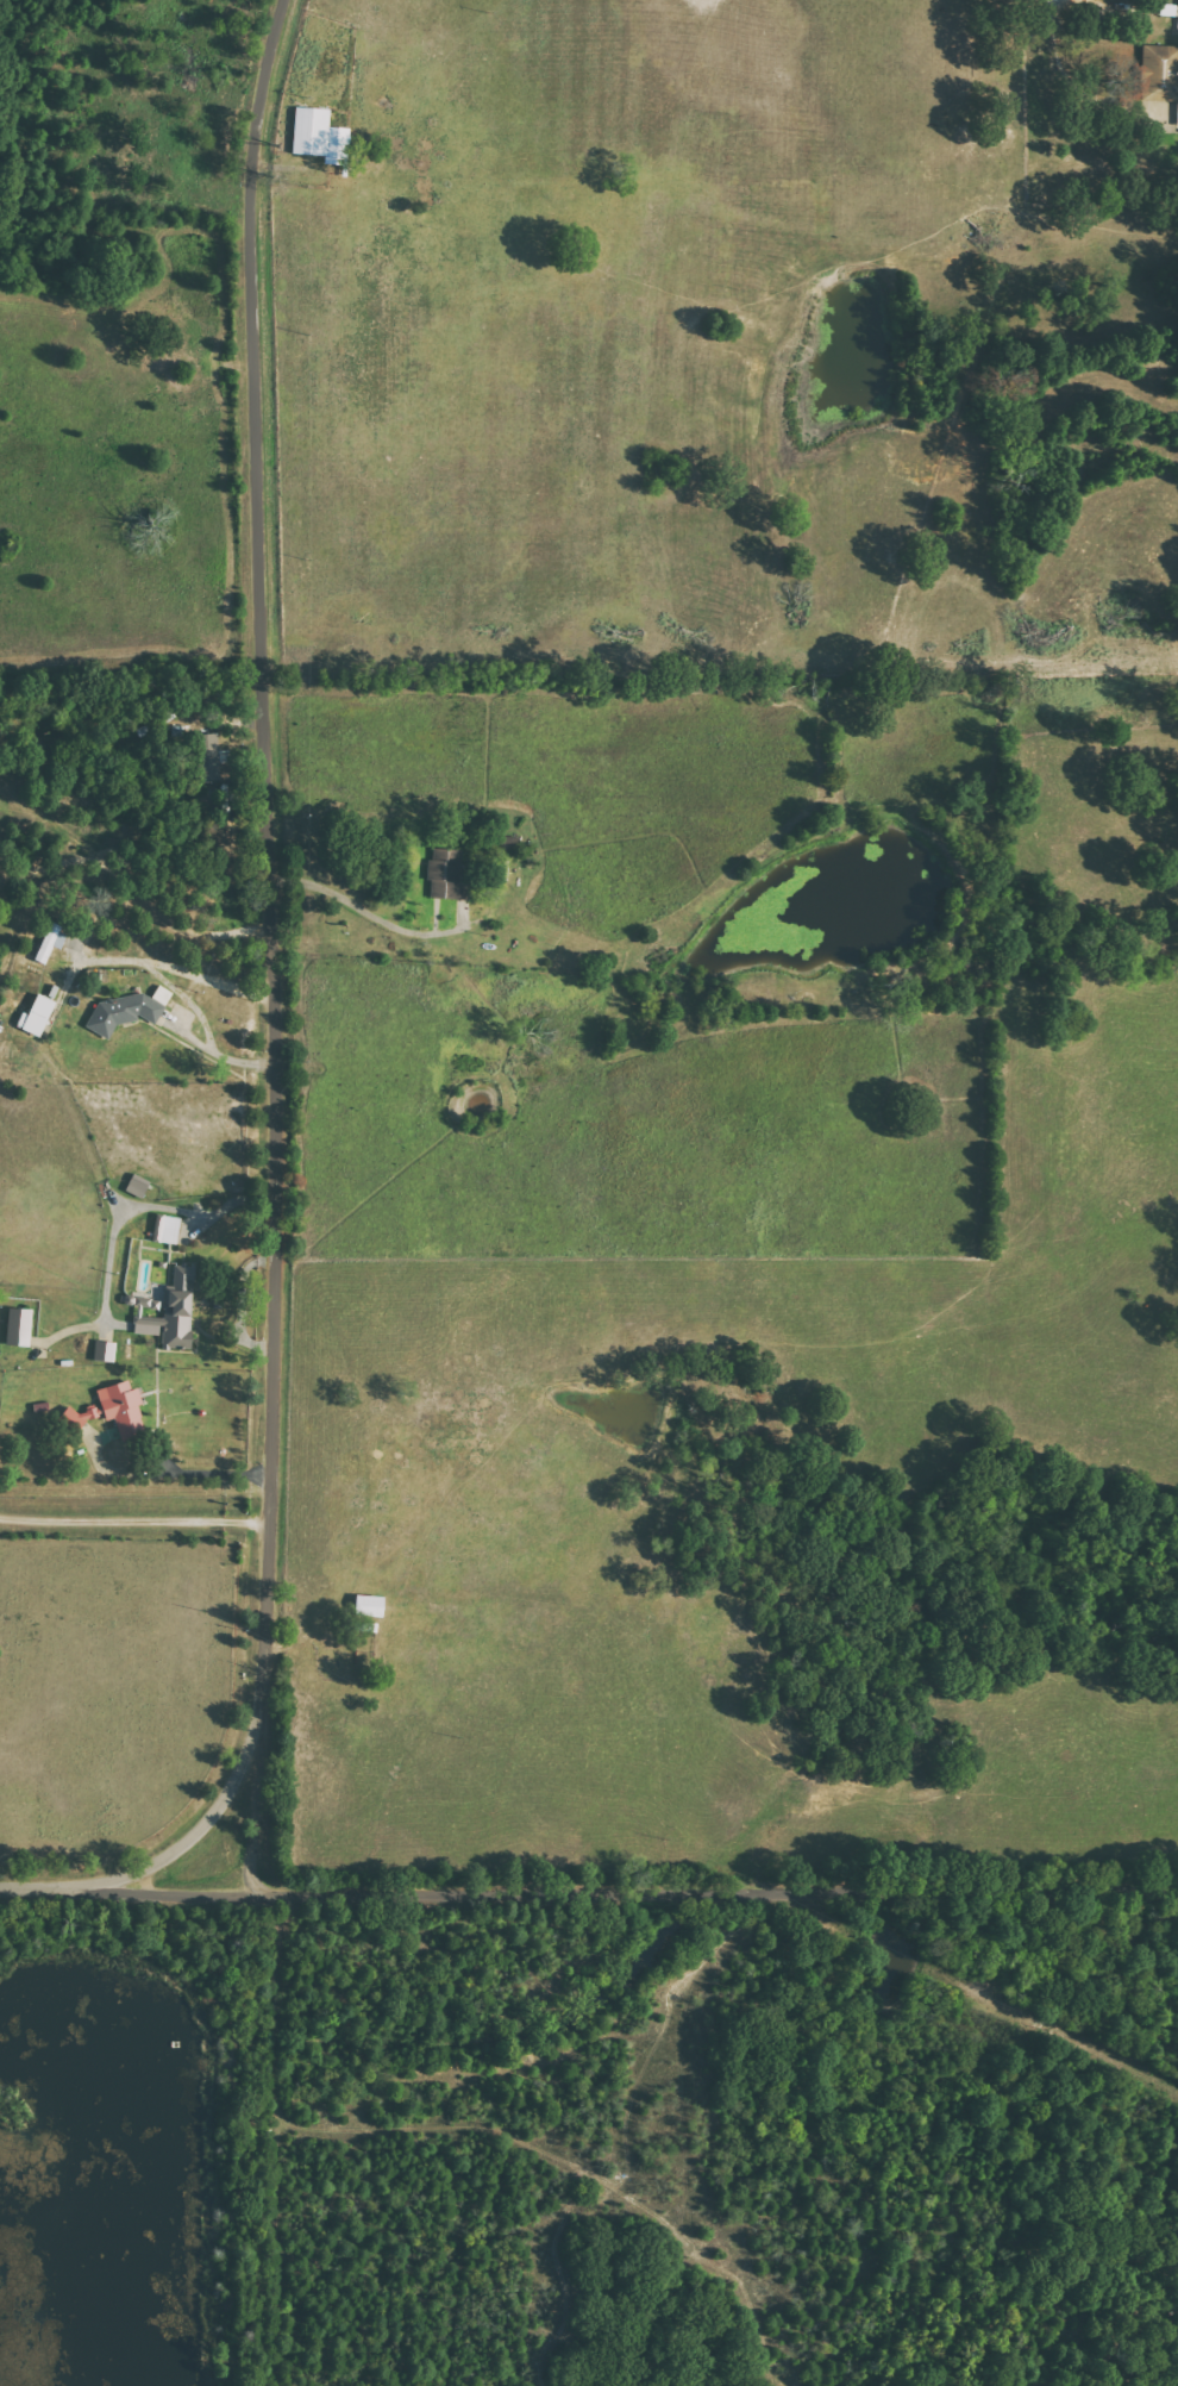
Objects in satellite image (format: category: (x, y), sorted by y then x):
building: (1163, 64)
building: (321, 136)
building: (447, 874)
road: (136, 887)
road: (362, 910)
road: (269, 938)
building: (52, 942)
road: (209, 974)
road: (182, 993)
building: (129, 1011)
building: (38, 1016)
building: (138, 1183)
building: (167, 1228)
building: (148, 1307)
building: (20, 1325)
building: (106, 1350)
building: (125, 1407)
building: (83, 1414)
road: (133, 1514)
road: (205, 1792)
road: (719, 1879)
road: (130, 1884)

